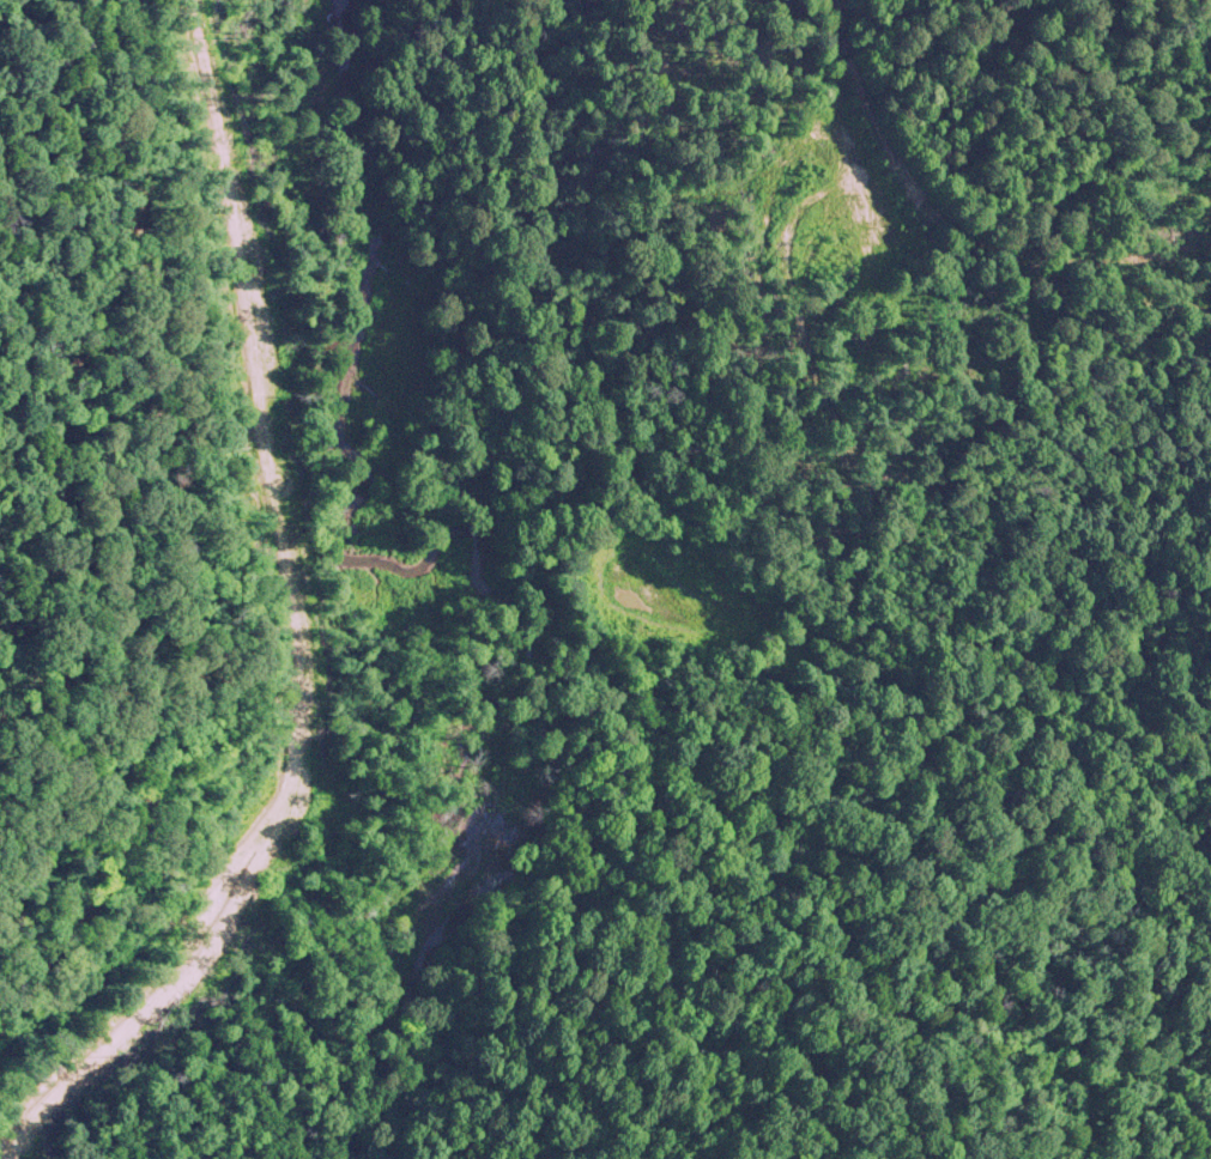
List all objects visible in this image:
railway: (968, 218)
railway: (477, 1046)

